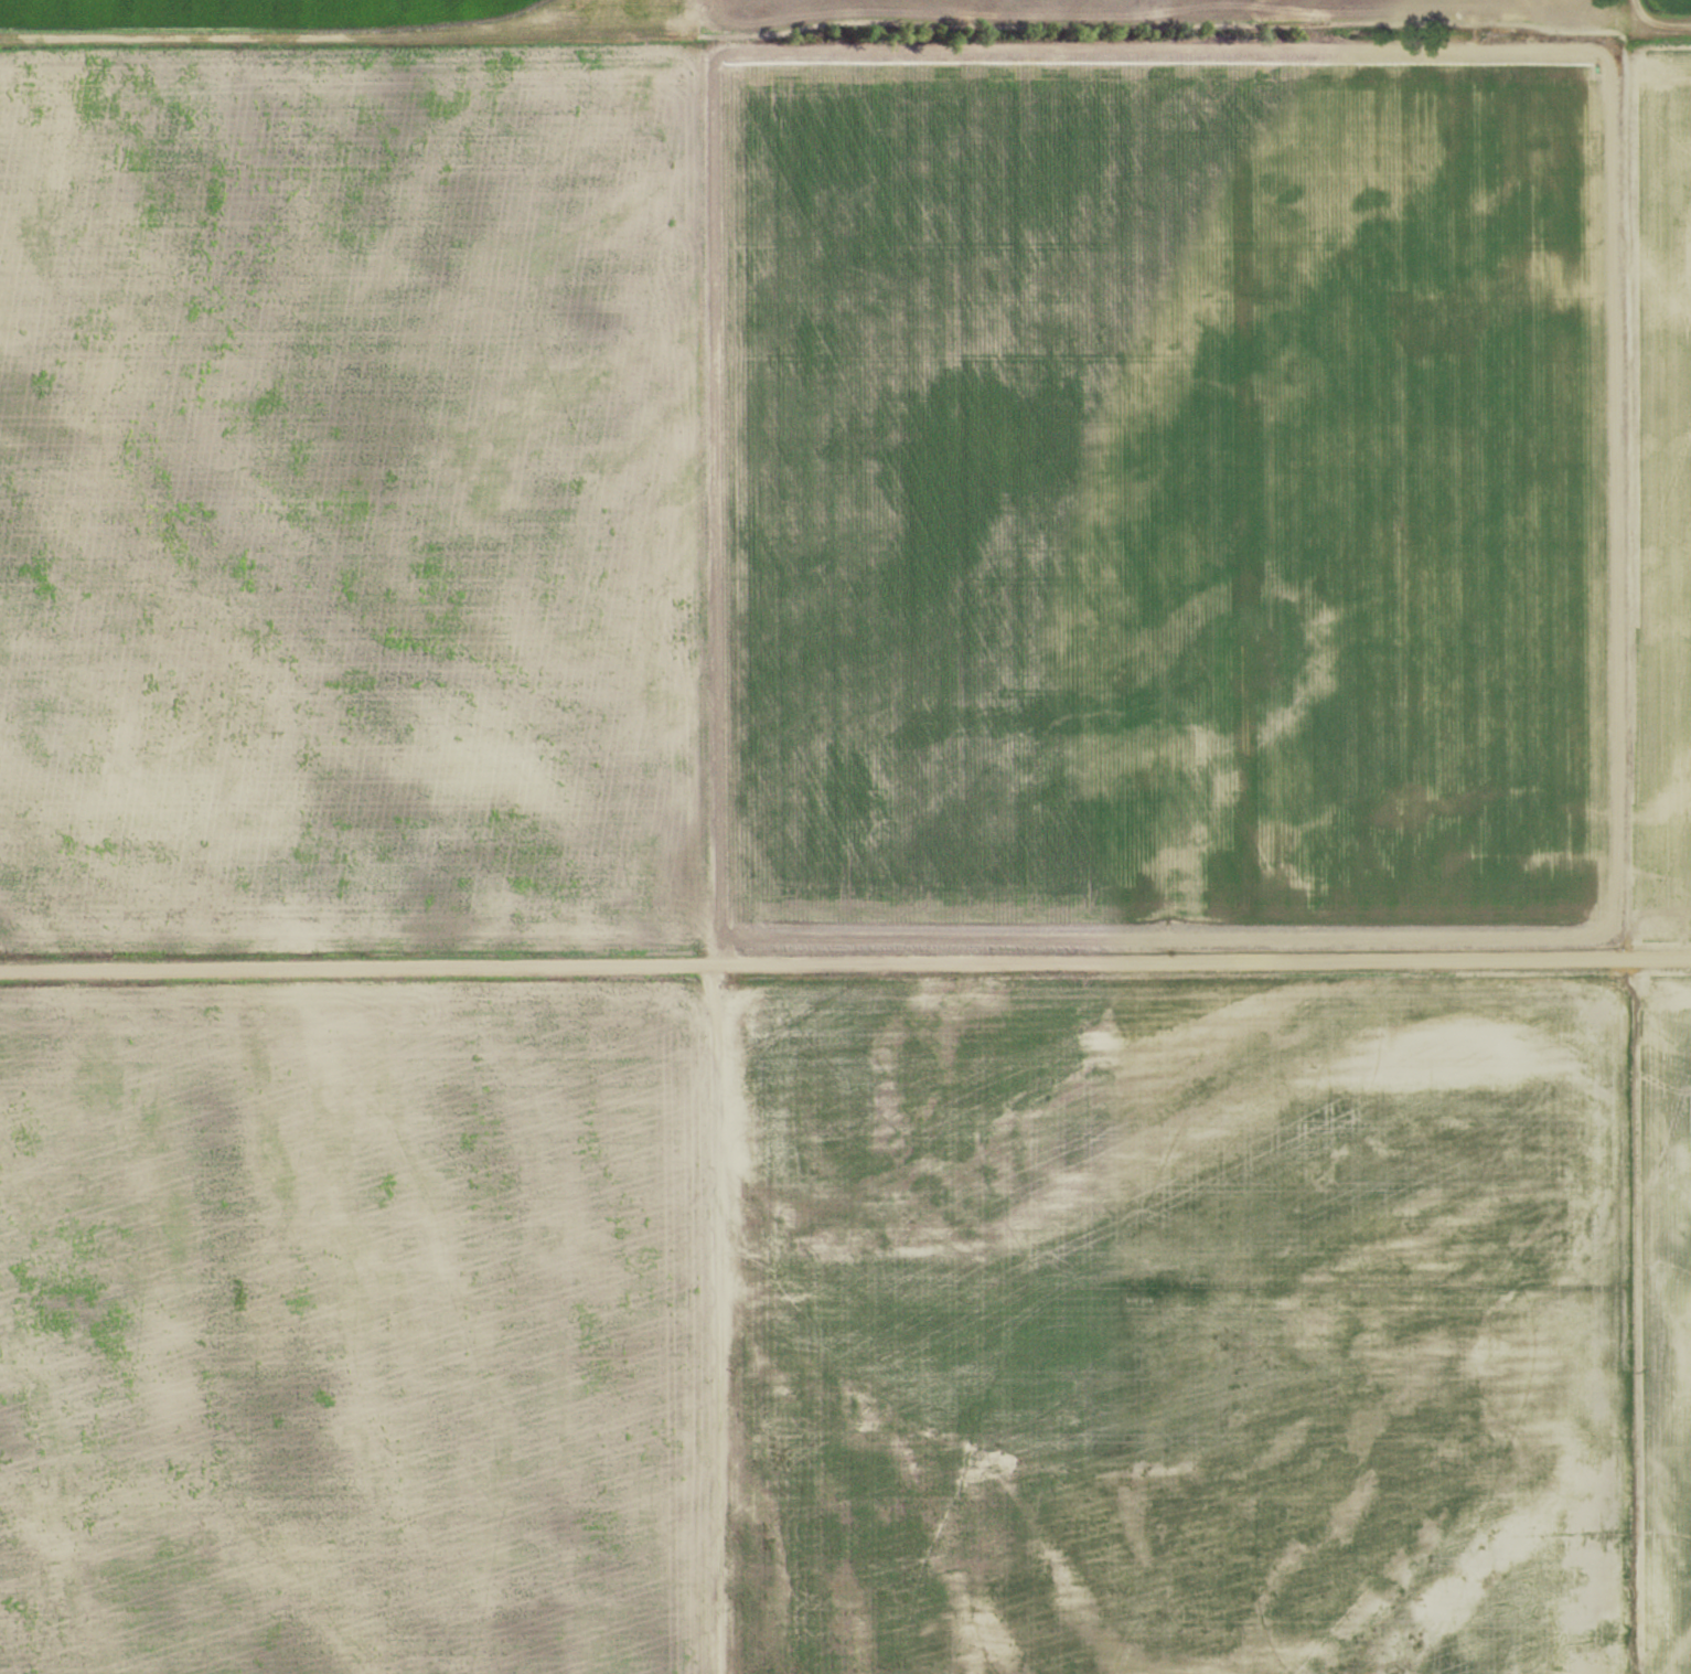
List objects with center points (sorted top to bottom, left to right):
road: (845, 968)

